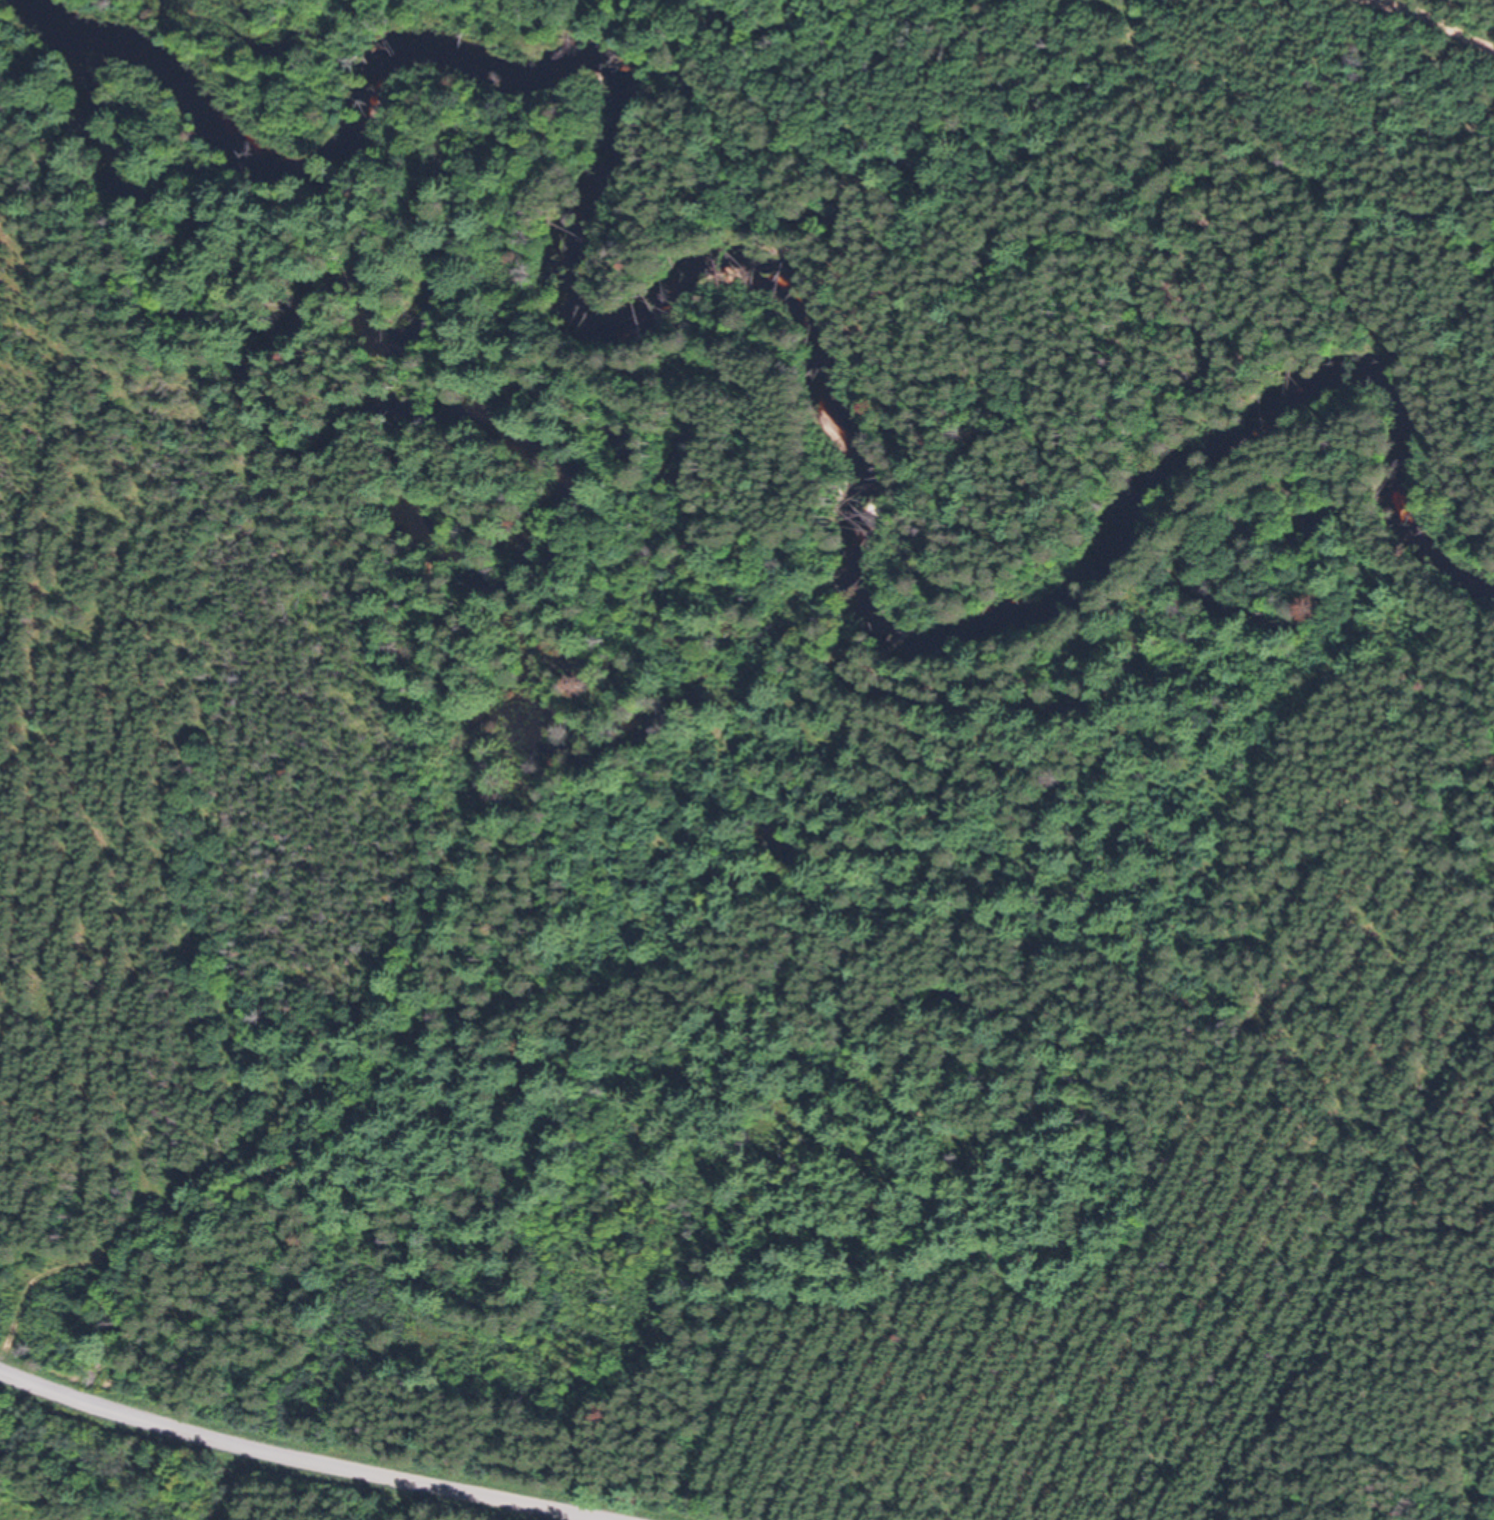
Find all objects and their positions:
road: (1374, 97)
road: (288, 1461)

